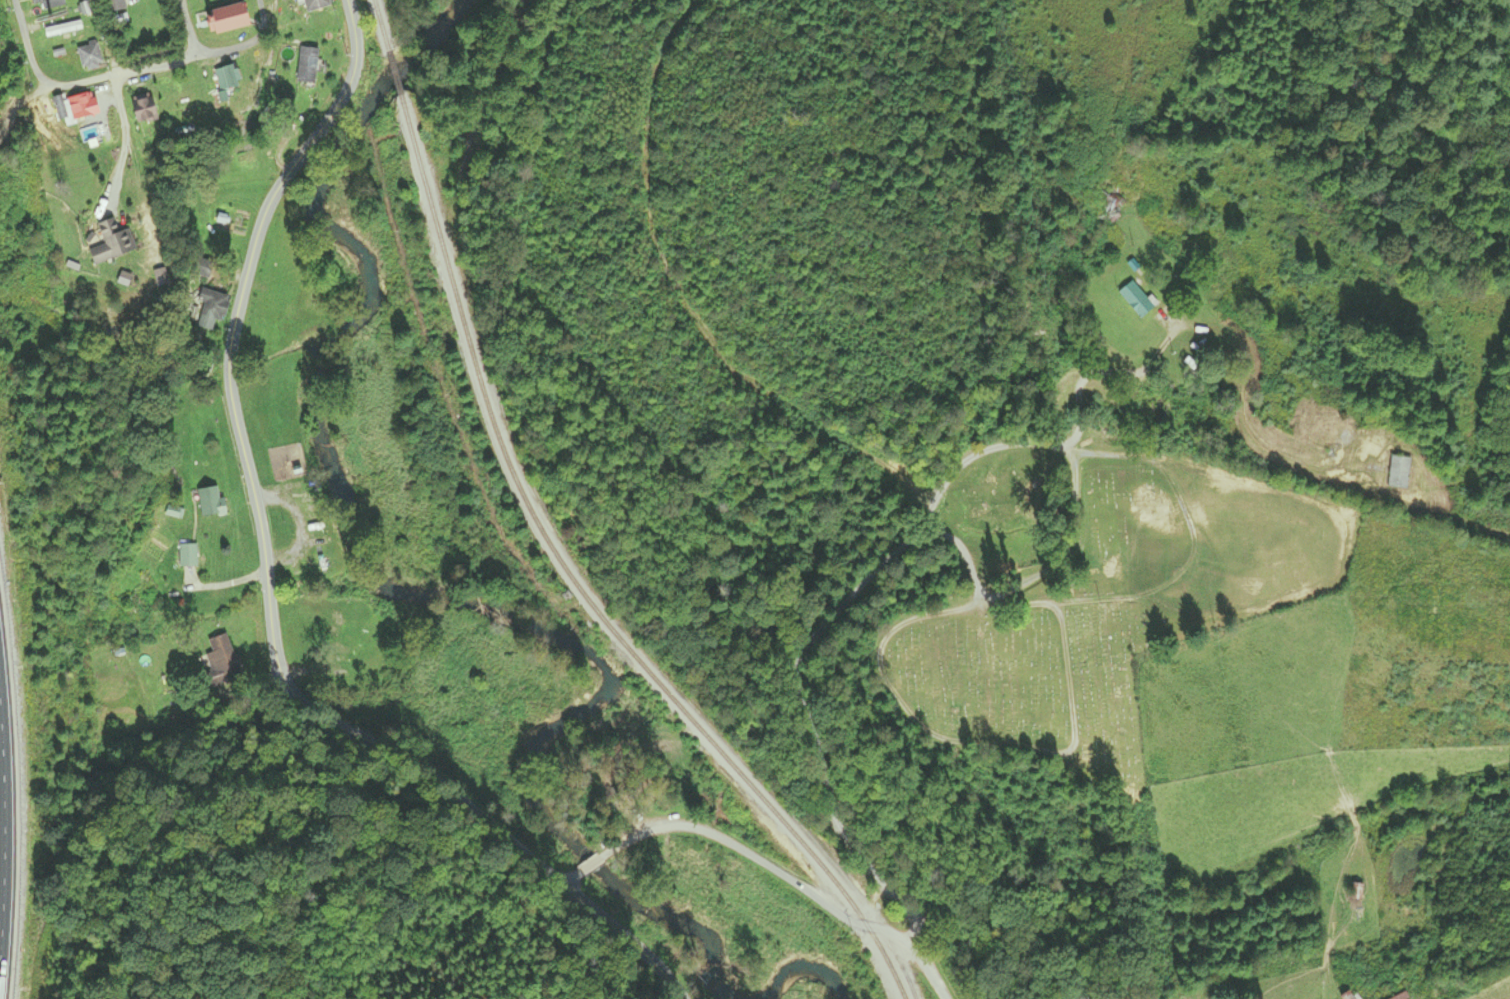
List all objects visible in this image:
building: (116, 1)
building: (48, 4)
building: (314, 5)
building: (225, 19)
road: (260, 19)
railway: (381, 25)
road: (188, 27)
building: (62, 29)
building: (147, 36)
road: (355, 36)
road: (27, 46)
building: (89, 56)
road: (159, 62)
building: (306, 65)
railway: (395, 72)
building: (225, 77)
railway: (492, 79)
road: (20, 106)
building: (82, 107)
building: (142, 109)
building: (1104, 203)
building: (108, 241)
building: (1135, 300)
building: (208, 310)
building: (1398, 473)
building: (210, 503)
road: (1053, 555)
building: (187, 556)
railway: (579, 588)
building: (136, 603)
river: (449, 604)
road: (274, 627)
road: (814, 640)
building: (223, 659)
road: (5, 839)
road: (594, 861)
road: (572, 880)
road: (792, 882)
building: (1356, 891)

